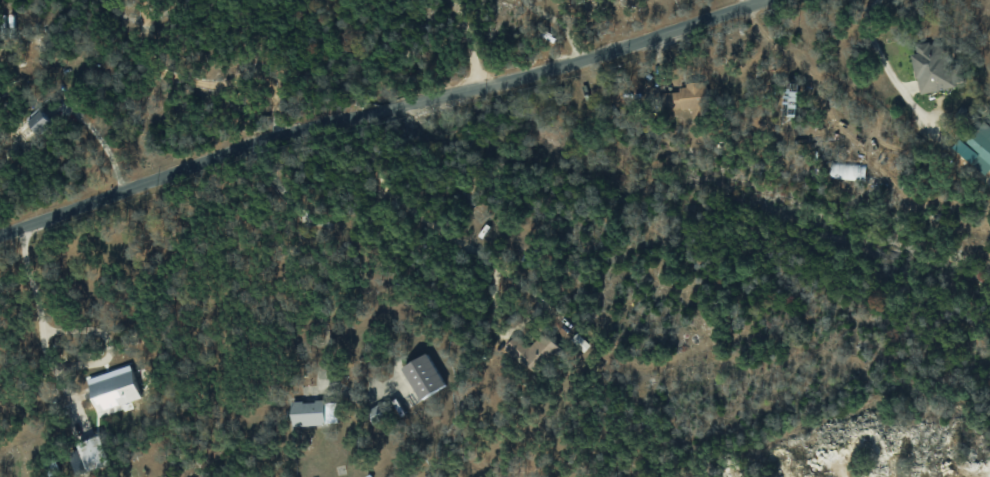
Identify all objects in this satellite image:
road: (743, 2)
road: (558, 23)
road: (467, 43)
road: (873, 44)
building: (932, 66)
road: (214, 82)
building: (687, 98)
road: (375, 112)
building: (44, 126)
road: (102, 143)
building: (980, 147)
building: (846, 170)
road: (413, 220)
road: (38, 313)
building: (532, 351)
building: (423, 376)
building: (113, 388)
building: (307, 413)
quarry: (883, 438)
building: (92, 453)

